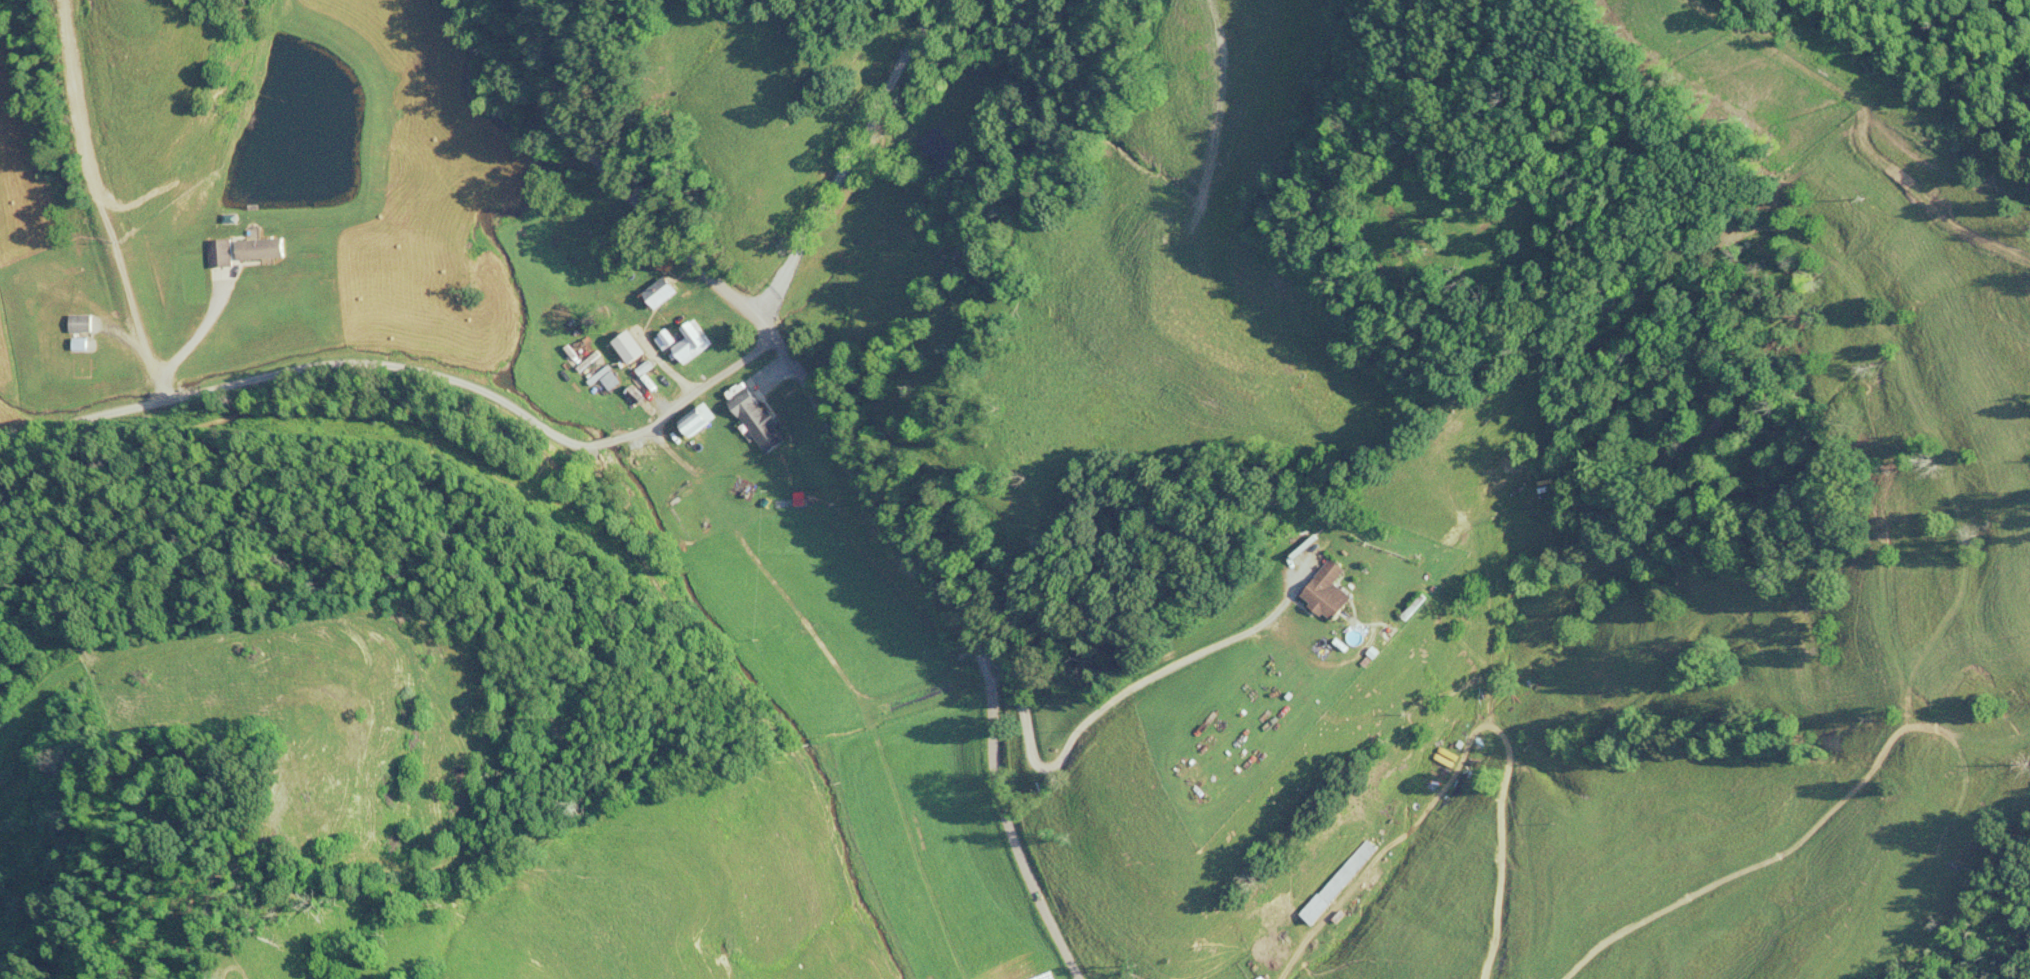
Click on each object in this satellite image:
road: (629, 187)
building: (264, 250)
building: (224, 260)
building: (662, 292)
building: (686, 343)
building: (83, 348)
road: (374, 391)
building: (760, 420)
building: (1327, 592)
road: (945, 639)
building: (1338, 882)

